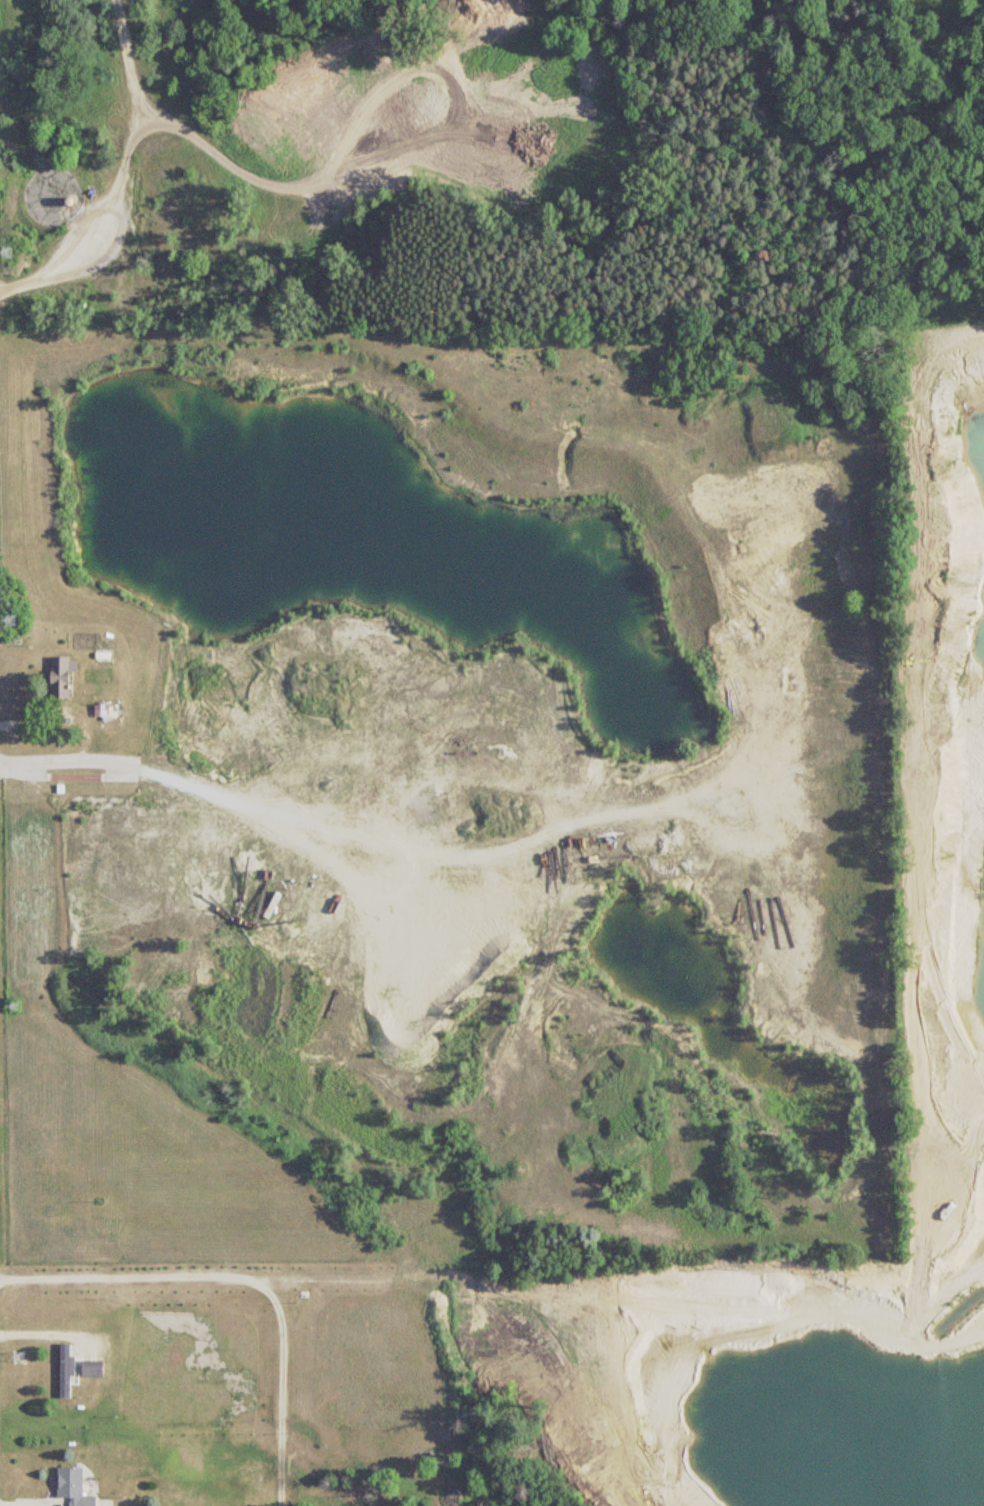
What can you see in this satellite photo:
power tower: (6, 253)
power tower: (9, 621)
building: (102, 658)
building: (62, 677)
road: (78, 749)
power tower: (13, 1007)
road: (247, 1270)
power tower: (18, 1355)
building: (93, 1369)
building: (65, 1371)
building: (73, 1486)

